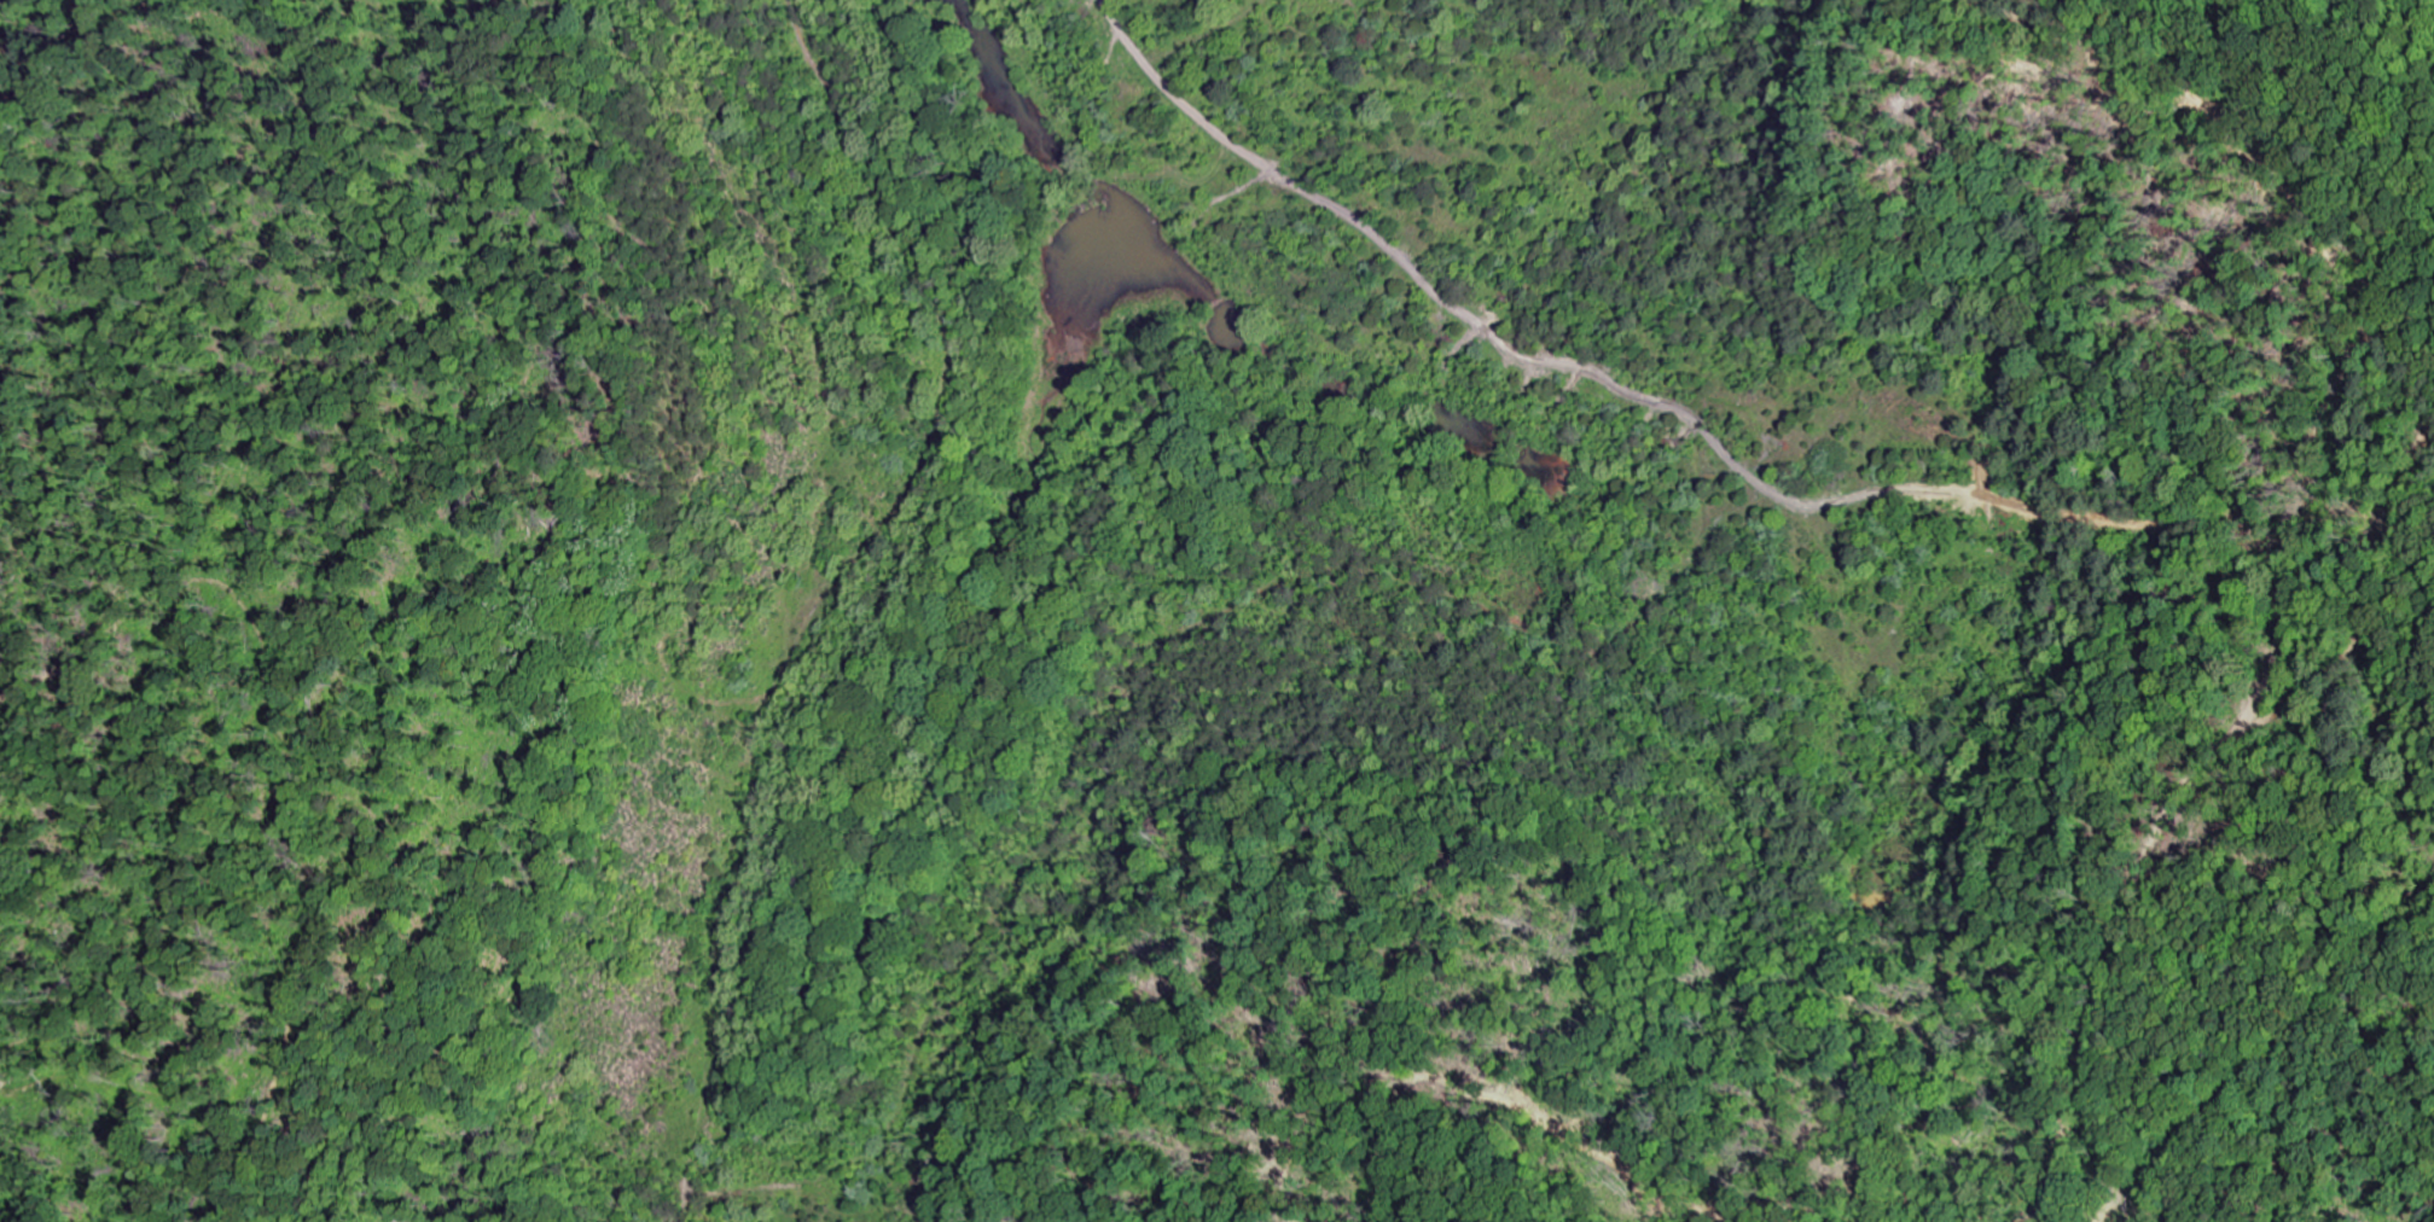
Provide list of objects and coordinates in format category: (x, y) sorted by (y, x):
road: (2131, 1214)

